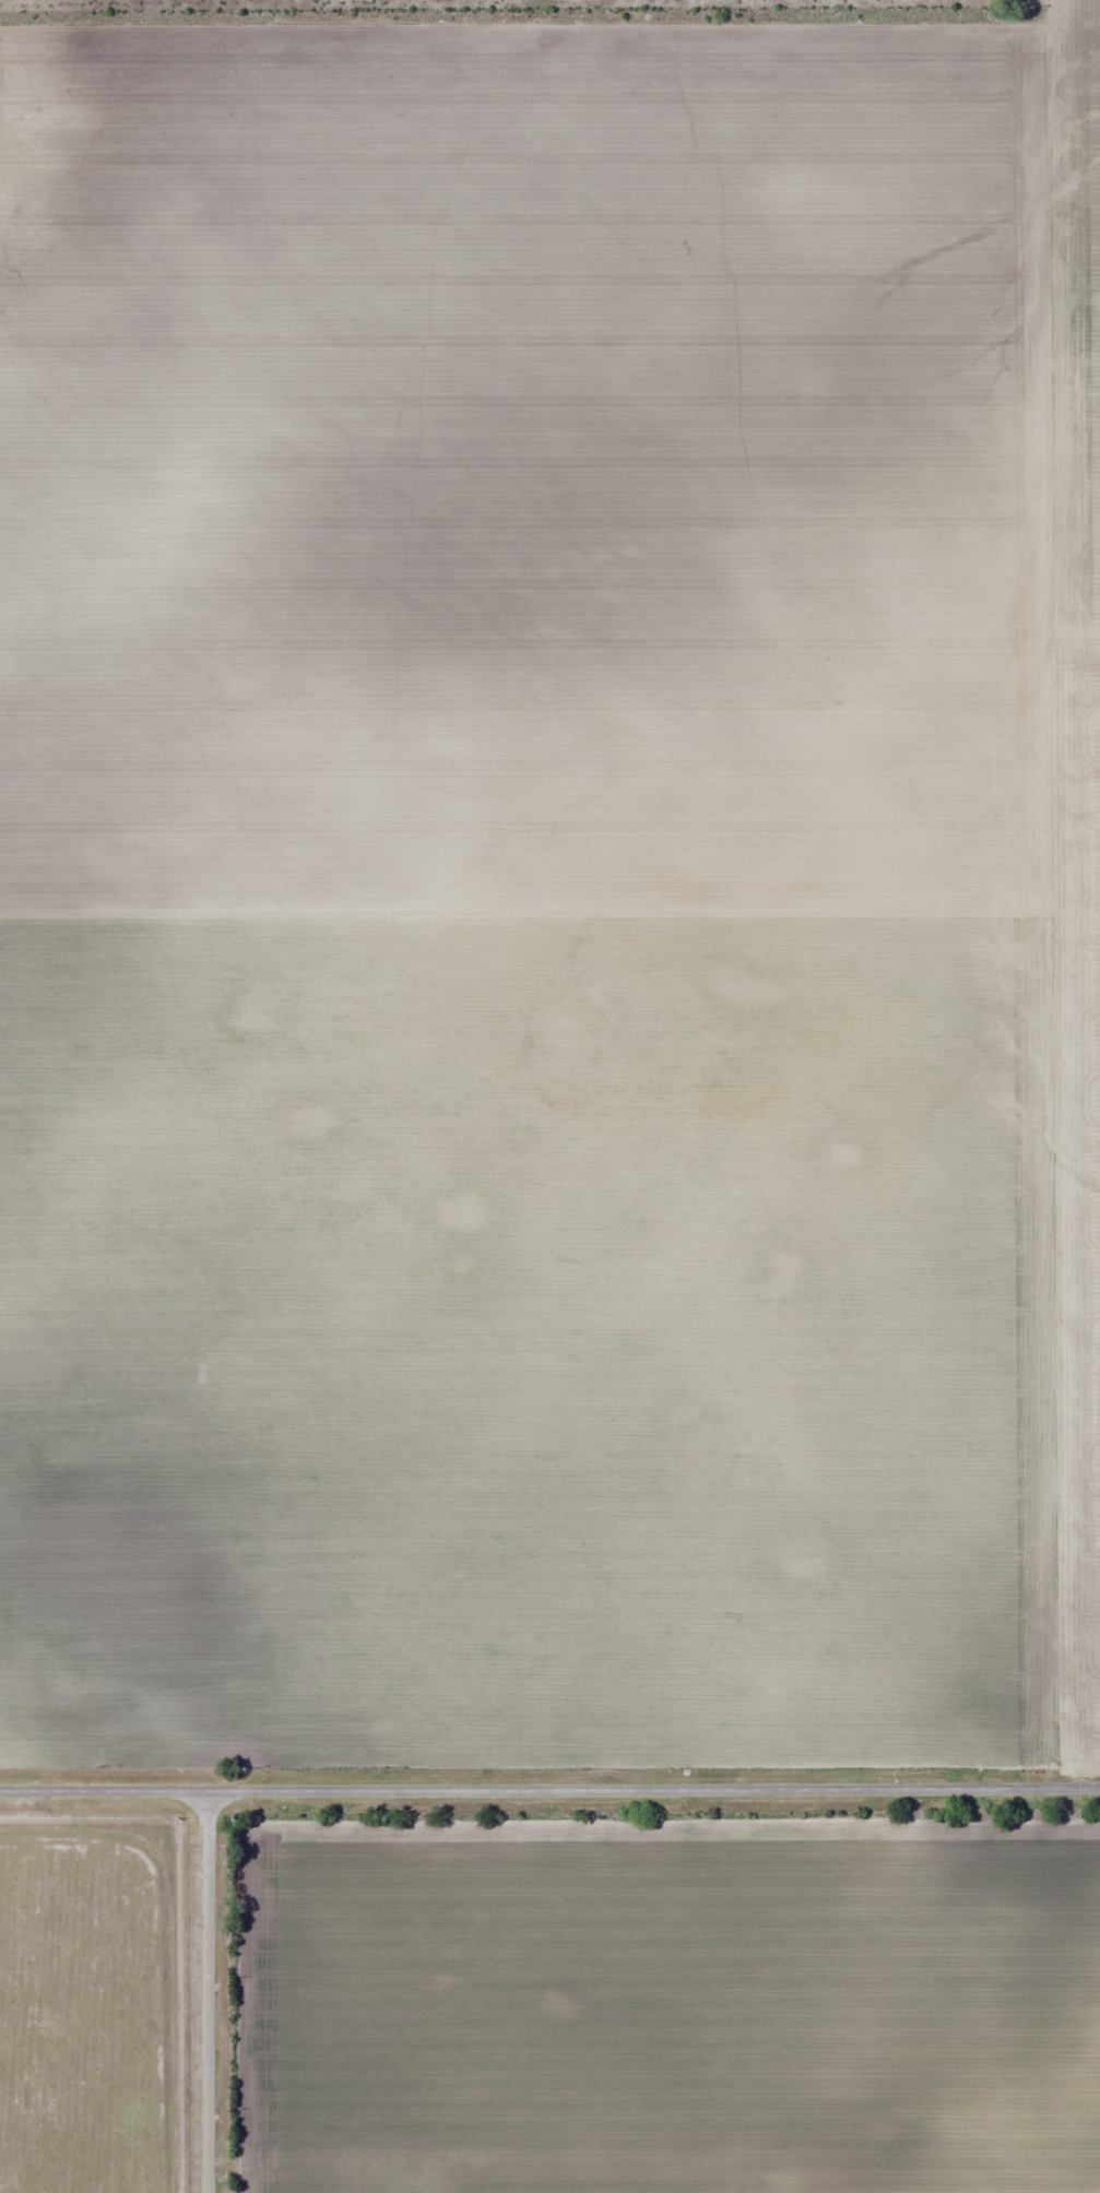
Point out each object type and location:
road: (549, 1788)
road: (208, 1991)

